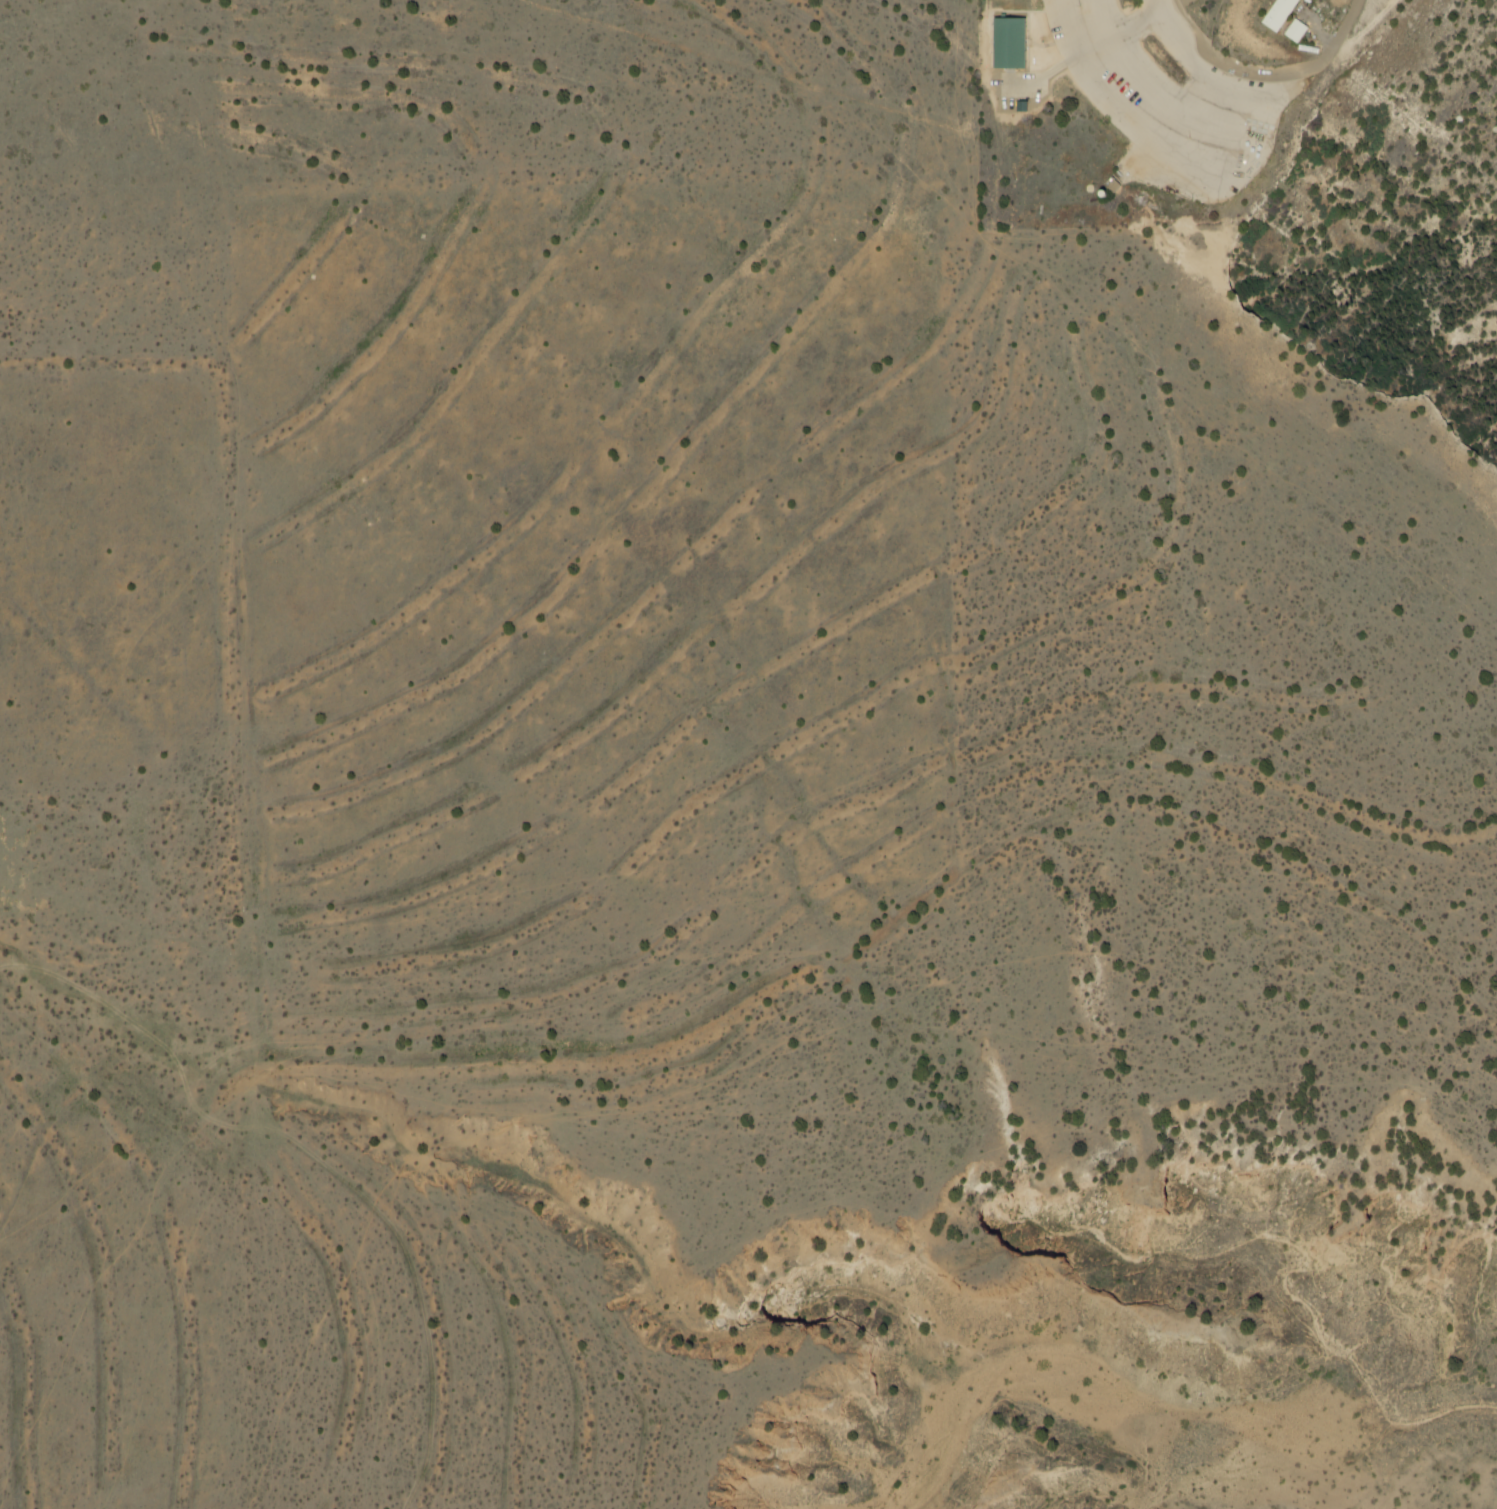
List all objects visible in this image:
building: (1278, 14)
building: (1296, 31)
road: (1118, 34)
building: (1009, 43)
road: (986, 48)
road: (1056, 69)
road: (1199, 69)
road: (1018, 85)
park: (1168, 102)
parking lot: (1161, 106)
building: (1022, 107)
building: (1112, 185)
building: (1103, 194)

